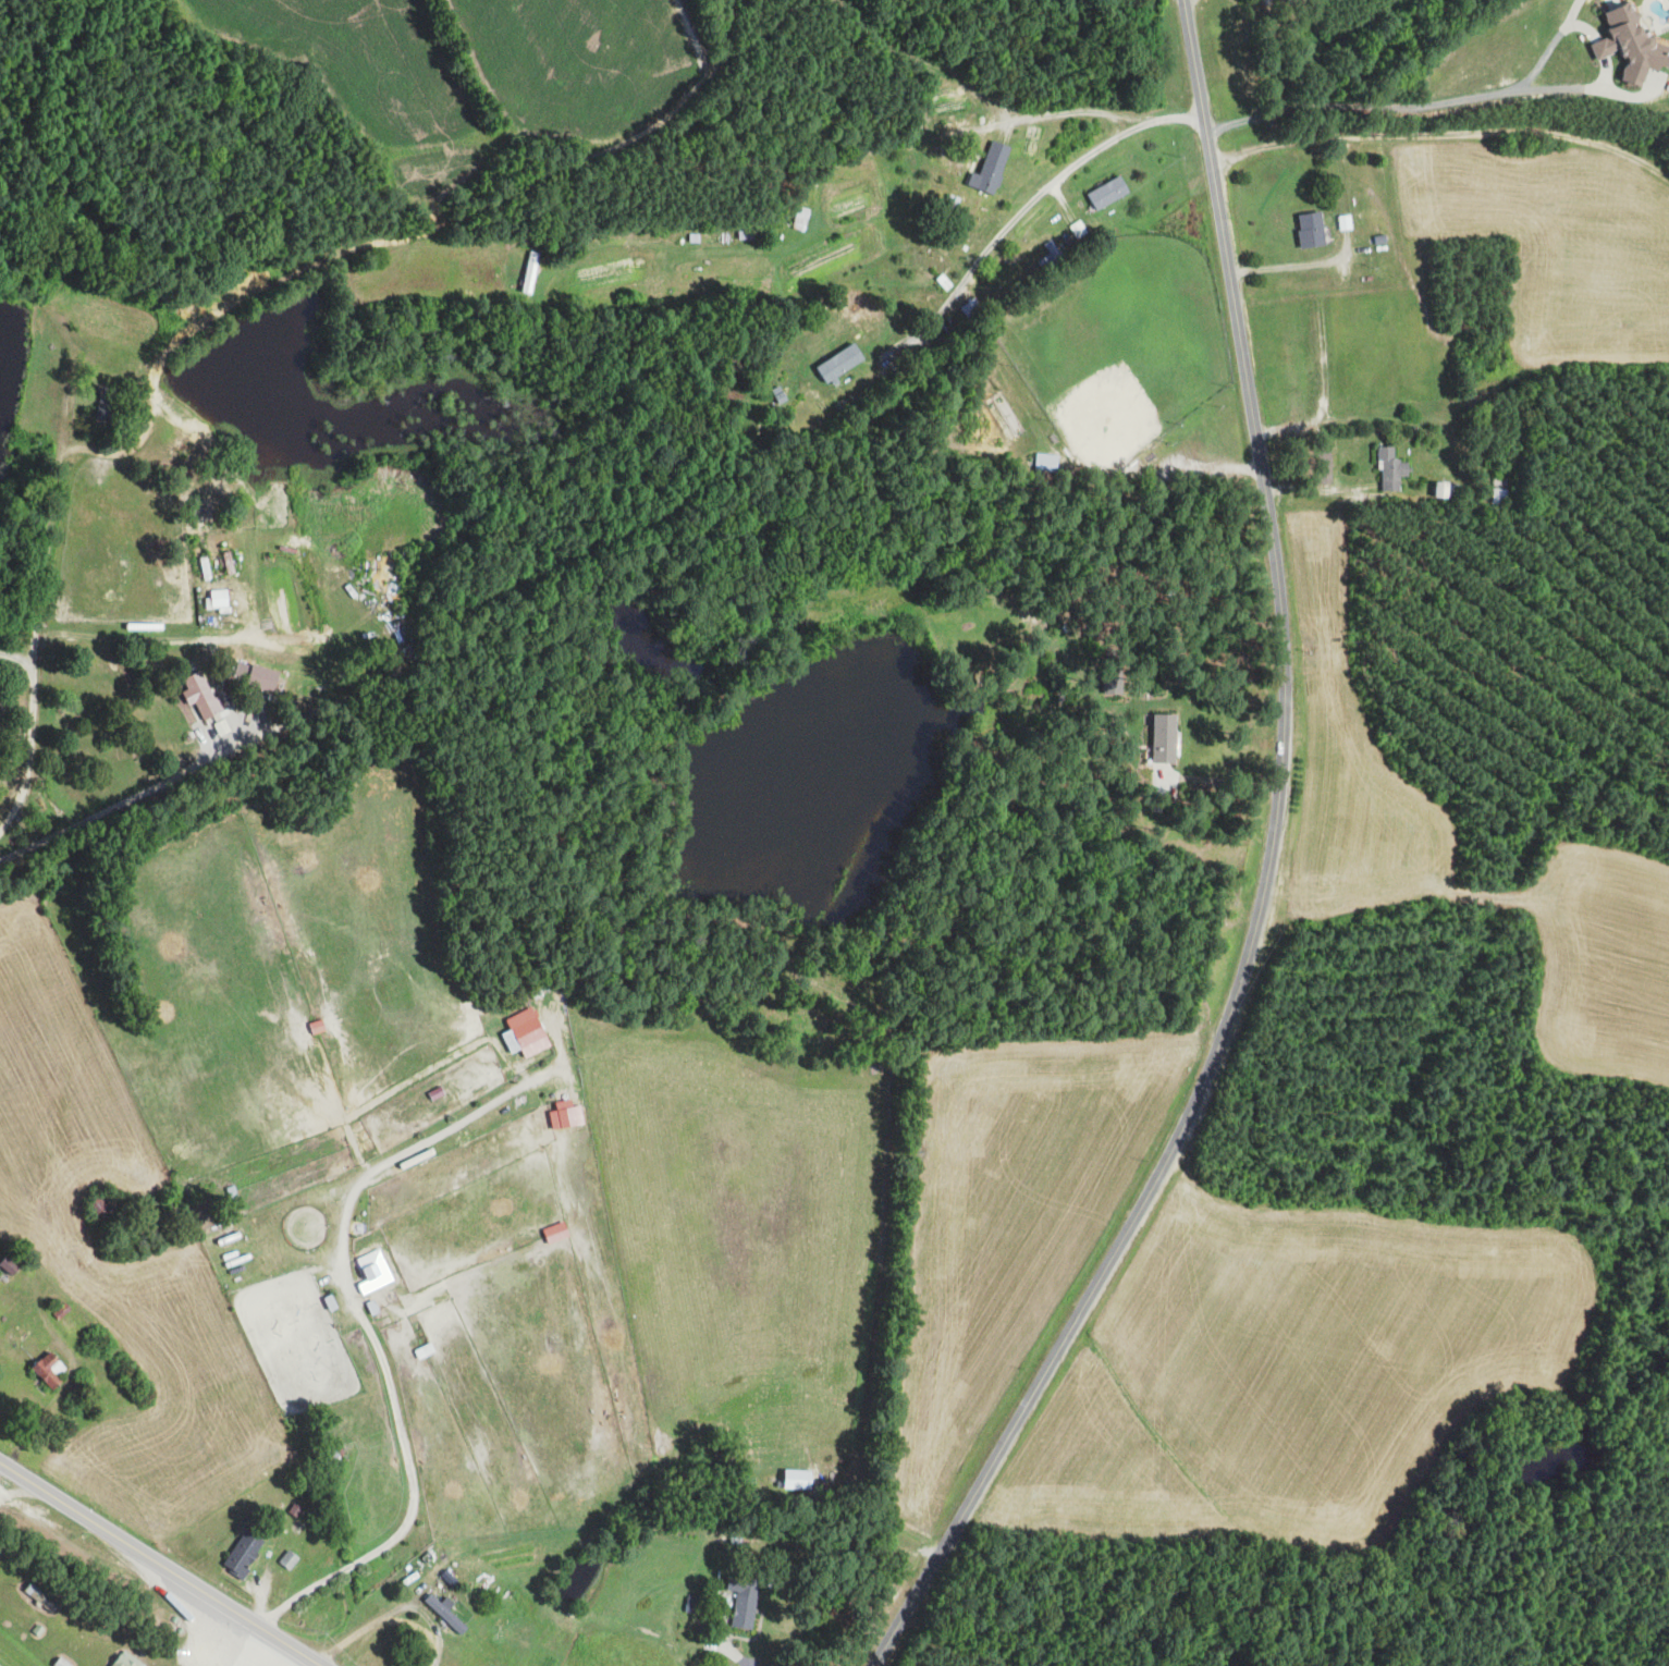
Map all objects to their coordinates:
building: (1633, 42)
road: (933, 68)
road: (1403, 106)
building: (992, 168)
road: (1460, 168)
road: (1057, 177)
road: (815, 182)
building: (1102, 191)
road: (453, 222)
building: (1345, 222)
building: (1075, 228)
building: (1312, 230)
building: (1044, 247)
building: (1050, 255)
road: (1291, 267)
road: (923, 329)
park: (1118, 343)
road: (69, 357)
building: (842, 362)
building: (1042, 458)
road: (1161, 468)
building: (1391, 469)
road: (42, 579)
building: (219, 600)
road: (19, 660)
building: (263, 678)
building: (199, 694)
building: (1161, 737)
road: (1217, 780)
road: (133, 797)
road: (1264, 877)
crop: (220, 1007)
building: (315, 1027)
building: (523, 1033)
building: (565, 1102)
building: (229, 1192)
building: (152, 1205)
building: (98, 1206)
crop: (736, 1216)
building: (557, 1232)
crop: (1010, 1232)
building: (224, 1238)
building: (9, 1263)
building: (372, 1276)
building: (237, 1282)
road: (353, 1308)
building: (59, 1311)
crop: (517, 1342)
road: (58, 1343)
building: (44, 1370)
crop: (174, 1407)
building: (323, 1456)
road: (3, 1477)
building: (800, 1479)
building: (771, 1481)
building: (291, 1511)
building: (733, 1539)
building: (238, 1554)
crop: (511, 1559)
building: (285, 1560)
road: (157, 1567)
road: (262, 1580)
building: (495, 1594)
building: (38, 1596)
building: (739, 1598)
building: (689, 1605)
building: (446, 1613)
building: (173, 1619)
road: (371, 1625)
building: (177, 1630)
building: (36, 1631)
road: (721, 1636)
building: (452, 1639)
road: (125, 1641)
road: (262, 1643)
road: (212, 1654)
road: (254, 1658)
road: (269, 1658)
building: (123, 1661)
building: (58, 1663)
crop: (1, 1664)

